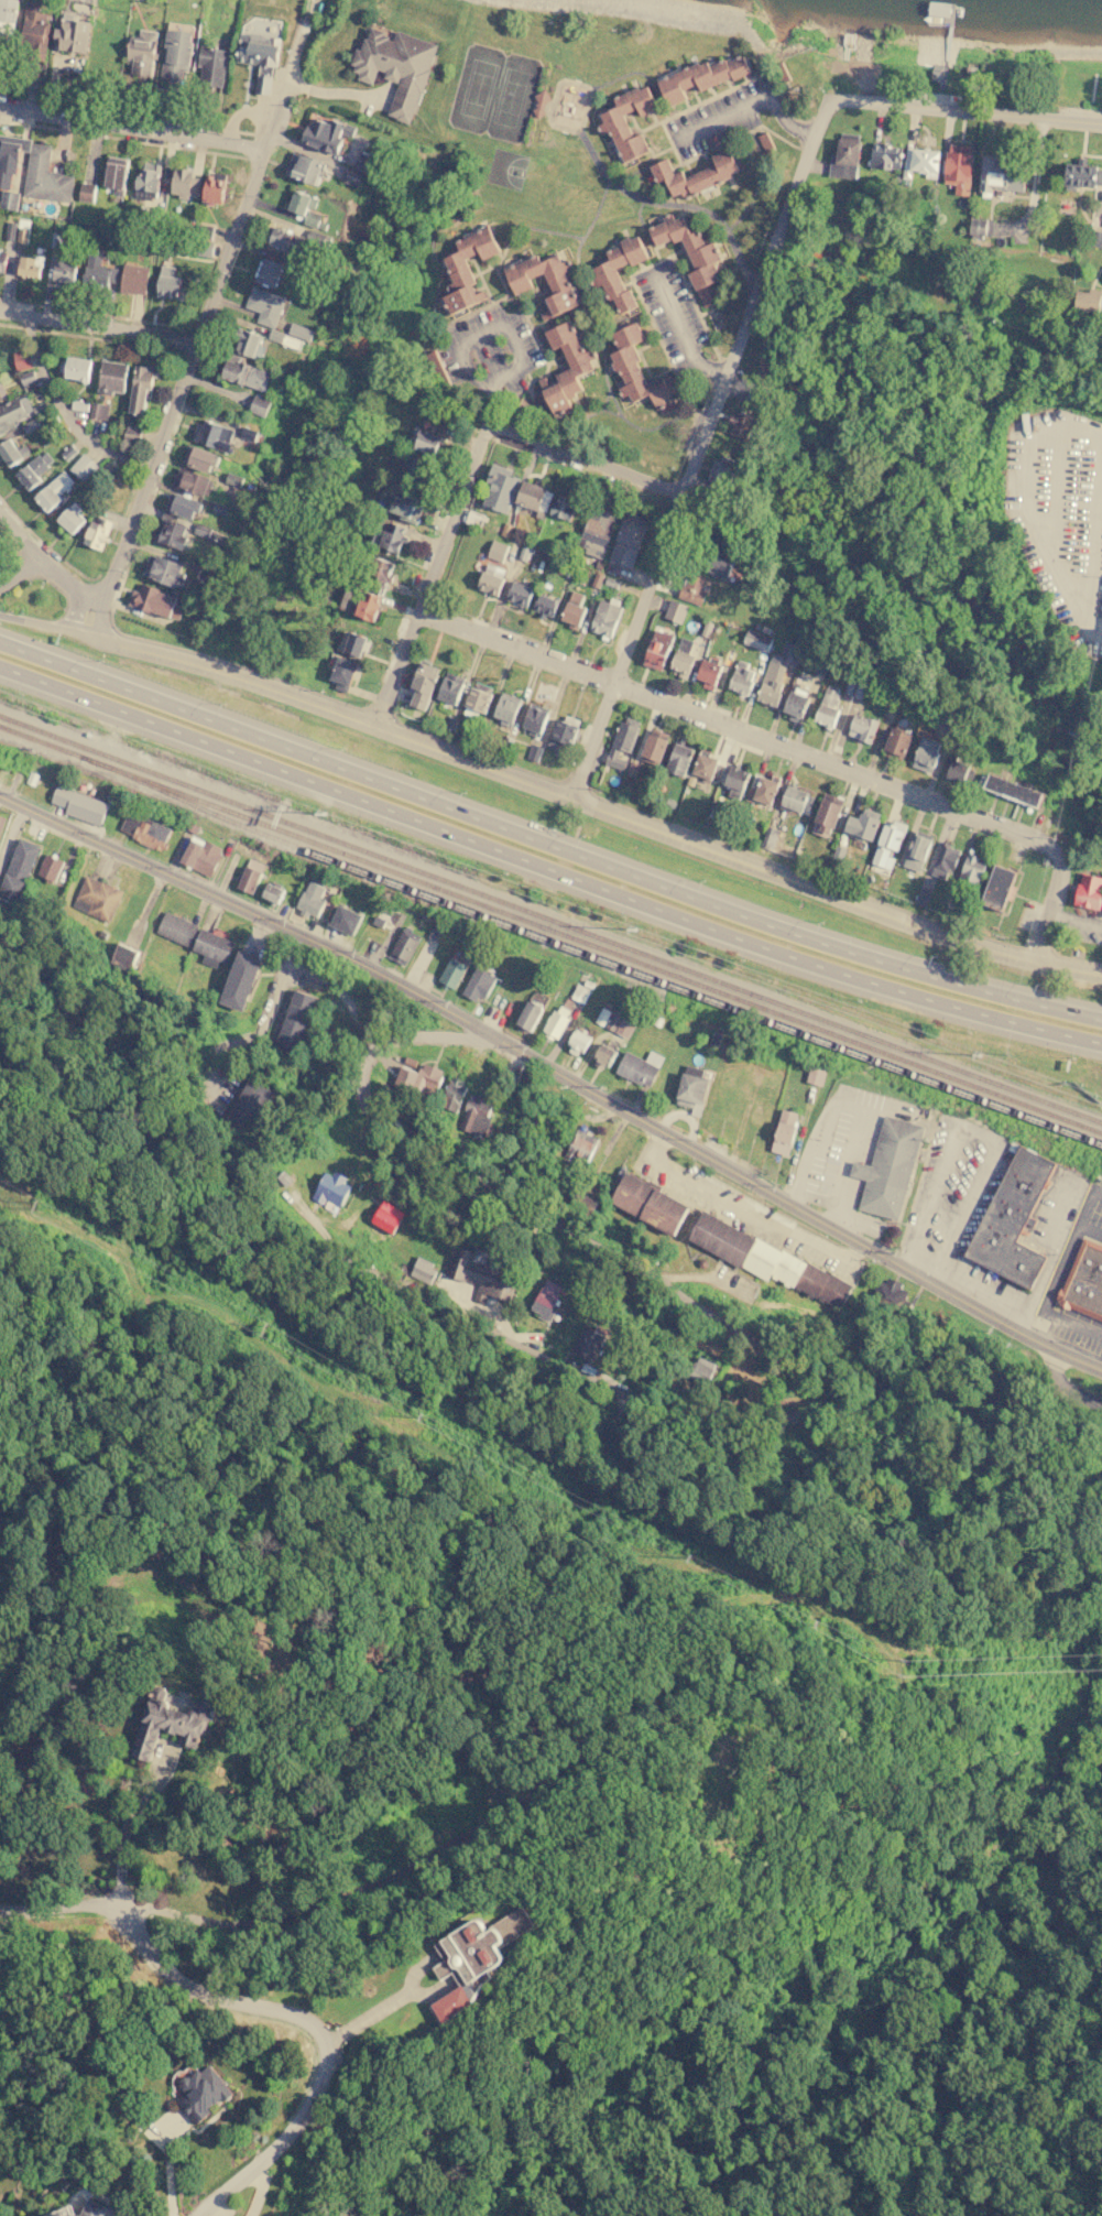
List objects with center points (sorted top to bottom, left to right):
building: (7, 22)
building: (32, 31)
building: (74, 34)
building: (142, 52)
building: (176, 54)
building: (259, 58)
building: (212, 66)
building: (395, 67)
road: (640, 73)
building: (700, 78)
road: (286, 87)
park: (478, 89)
park: (510, 98)
building: (541, 102)
road: (749, 109)
road: (965, 110)
building: (613, 123)
road: (131, 129)
building: (327, 134)
building: (765, 141)
building: (885, 155)
building: (11, 156)
building: (845, 156)
building: (367, 162)
building: (920, 162)
building: (958, 163)
building: (304, 169)
park: (506, 169)
road: (760, 174)
building: (1082, 174)
building: (116, 175)
building: (1001, 175)
building: (352, 176)
road: (607, 176)
building: (696, 176)
building: (45, 177)
building: (148, 182)
building: (185, 183)
building: (212, 191)
building: (86, 192)
building: (10, 199)
building: (307, 209)
building: (981, 226)
road: (528, 228)
building: (204, 230)
road: (643, 230)
building: (22, 233)
building: (1096, 238)
building: (286, 240)
building: (690, 252)
building: (2, 260)
building: (31, 267)
building: (66, 269)
building: (467, 269)
building: (98, 270)
building: (269, 272)
building: (605, 276)
building: (135, 278)
building: (170, 284)
building: (561, 291)
road: (587, 295)
building: (1087, 300)
building: (264, 305)
road: (433, 314)
road: (96, 328)
road: (508, 328)
road: (680, 328)
building: (299, 330)
road: (654, 330)
building: (284, 338)
building: (248, 341)
building: (21, 359)
building: (579, 366)
building: (76, 368)
building: (437, 371)
building: (637, 371)
building: (247, 373)
building: (113, 376)
building: (28, 379)
road: (179, 382)
building: (141, 389)
building: (1, 391)
road: (605, 399)
building: (260, 405)
building: (99, 410)
road: (62, 413)
building: (11, 414)
building: (741, 423)
building: (30, 424)
building: (248, 433)
building: (131, 435)
building: (214, 437)
building: (426, 442)
road: (699, 445)
building: (68, 450)
building: (12, 452)
building: (201, 459)
road: (583, 460)
building: (83, 467)
building: (34, 470)
building: (719, 471)
building: (192, 481)
road: (1056, 487)
building: (500, 488)
building: (54, 490)
road: (1023, 497)
building: (533, 498)
building: (185, 506)
building: (402, 507)
building: (563, 507)
building: (72, 519)
building: (97, 533)
building: (172, 533)
building: (596, 533)
road: (19, 534)
building: (391, 537)
building: (628, 540)
building: (497, 550)
road: (1090, 561)
building: (717, 563)
building: (149, 564)
road: (20, 569)
building: (166, 571)
building: (380, 572)
road: (432, 572)
building: (491, 578)
road: (68, 585)
building: (692, 588)
building: (519, 593)
building: (159, 602)
building: (360, 602)
building: (545, 605)
building: (572, 609)
building: (674, 611)
building: (605, 617)
road: (46, 623)
road: (96, 623)
building: (756, 639)
building: (352, 643)
building: (657, 650)
building: (683, 658)
building: (777, 671)
building: (342, 673)
building: (709, 673)
building: (742, 677)
building: (423, 684)
building: (451, 687)
building: (479, 696)
building: (796, 702)
road: (334, 706)
building: (827, 707)
building: (506, 708)
building: (534, 718)
road: (727, 721)
building: (862, 727)
building: (563, 732)
building: (622, 742)
building: (897, 742)
building: (655, 746)
building: (534, 752)
building: (926, 753)
building: (679, 759)
building: (705, 767)
building: (632, 769)
building: (960, 771)
building: (735, 781)
building: (765, 790)
building: (1013, 790)
building: (797, 799)
building: (79, 804)
building: (827, 815)
building: (1, 821)
building: (863, 824)
building: (144, 830)
building: (887, 843)
road: (546, 844)
building: (917, 850)
building: (201, 856)
building: (945, 860)
building: (50, 867)
building: (18, 868)
building: (972, 869)
building: (251, 875)
road: (545, 875)
building: (997, 886)
road: (833, 889)
building: (1089, 891)
building: (273, 892)
road: (1052, 894)
building: (97, 898)
building: (312, 899)
road: (1074, 917)
building: (346, 920)
railway: (550, 920)
building: (176, 928)
railway: (550, 930)
building: (404, 945)
building: (211, 947)
building: (123, 955)
railway: (589, 955)
building: (451, 973)
building: (240, 980)
building: (477, 984)
building: (579, 992)
building: (528, 1014)
building: (296, 1020)
building: (556, 1021)
road: (268, 1023)
building: (619, 1025)
building: (578, 1042)
building: (602, 1056)
building: (639, 1067)
building: (815, 1075)
road: (556, 1076)
building: (419, 1078)
building: (691, 1089)
building: (452, 1093)
building: (247, 1106)
building: (476, 1114)
building: (760, 1114)
building: (784, 1131)
building: (581, 1145)
building: (887, 1166)
building: (331, 1190)
building: (582, 1203)
building: (650, 1203)
building: (1011, 1218)
building: (766, 1259)
building: (422, 1270)
building: (479, 1277)
building: (1084, 1280)
building: (892, 1294)
building: (544, 1302)
road: (721, 1325)
building: (587, 1343)
building: (701, 1369)
road: (1063, 1386)
building: (168, 1724)
road: (127, 1824)
road: (12, 1918)
building: (473, 1959)
road: (382, 2006)
road: (258, 2008)
building: (201, 2093)
building: (91, 2209)
building: (59, 2213)

